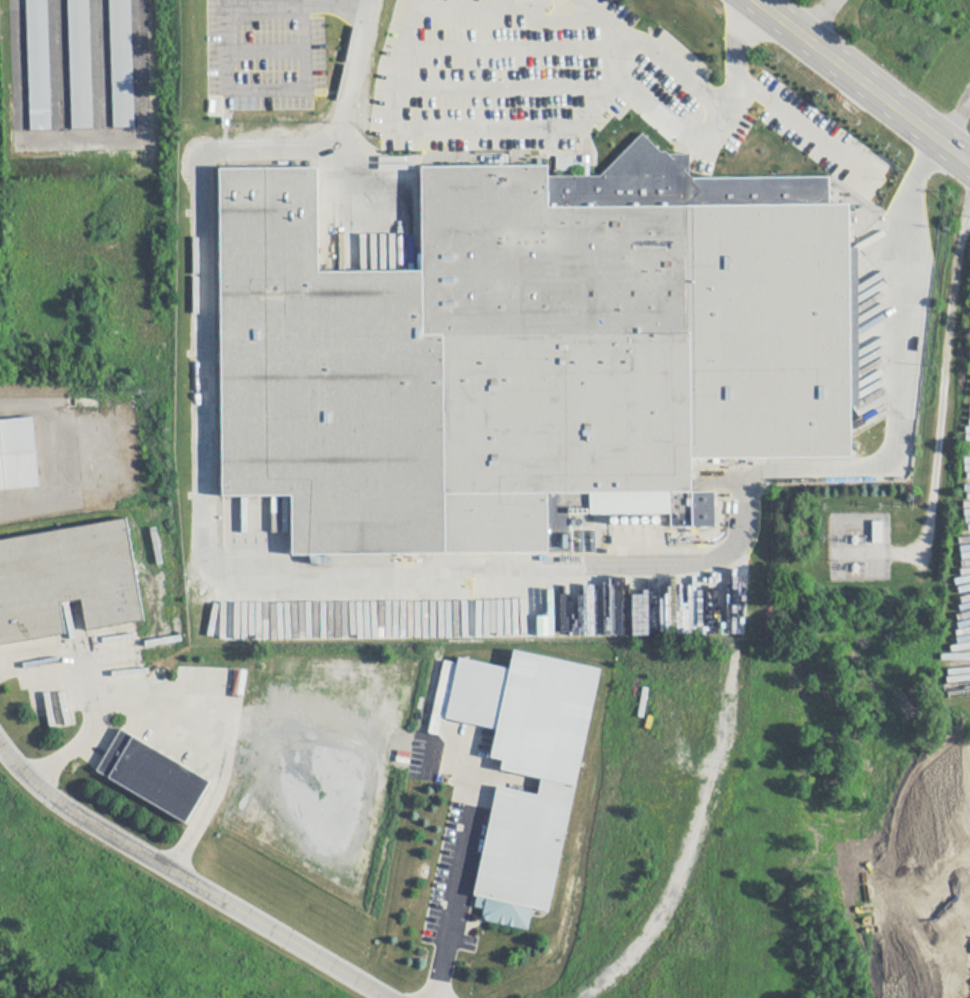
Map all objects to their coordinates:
road: (457, 2)
road: (823, 19)
road: (507, 43)
road: (266, 45)
road: (226, 47)
road: (142, 62)
building: (119, 63)
building: (77, 64)
building: (35, 65)
road: (863, 81)
road: (503, 85)
road: (686, 97)
road: (666, 113)
road: (952, 118)
road: (807, 120)
road: (473, 123)
building: (843, 184)
building: (516, 343)
building: (17, 454)
road: (47, 467)
building: (877, 530)
building: (69, 574)
road: (398, 591)
road: (64, 657)
road: (180, 721)
road: (294, 732)
building: (529, 766)
building: (151, 771)
road: (256, 774)
road: (303, 788)
road: (405, 822)
road: (685, 856)
road: (187, 879)
road: (455, 884)

